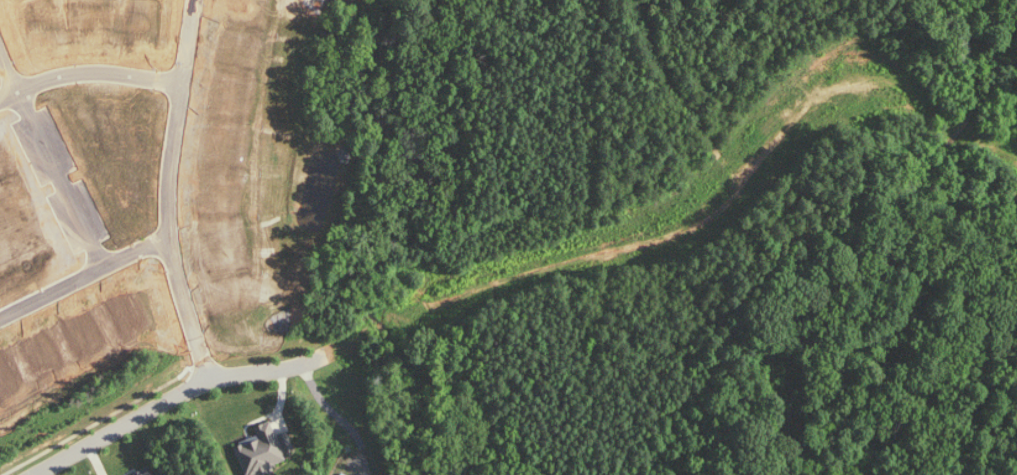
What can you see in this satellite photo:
road: (9, 67)
road: (89, 72)
road: (63, 178)
road: (170, 192)
road: (84, 277)
road: (174, 398)
building: (264, 450)

